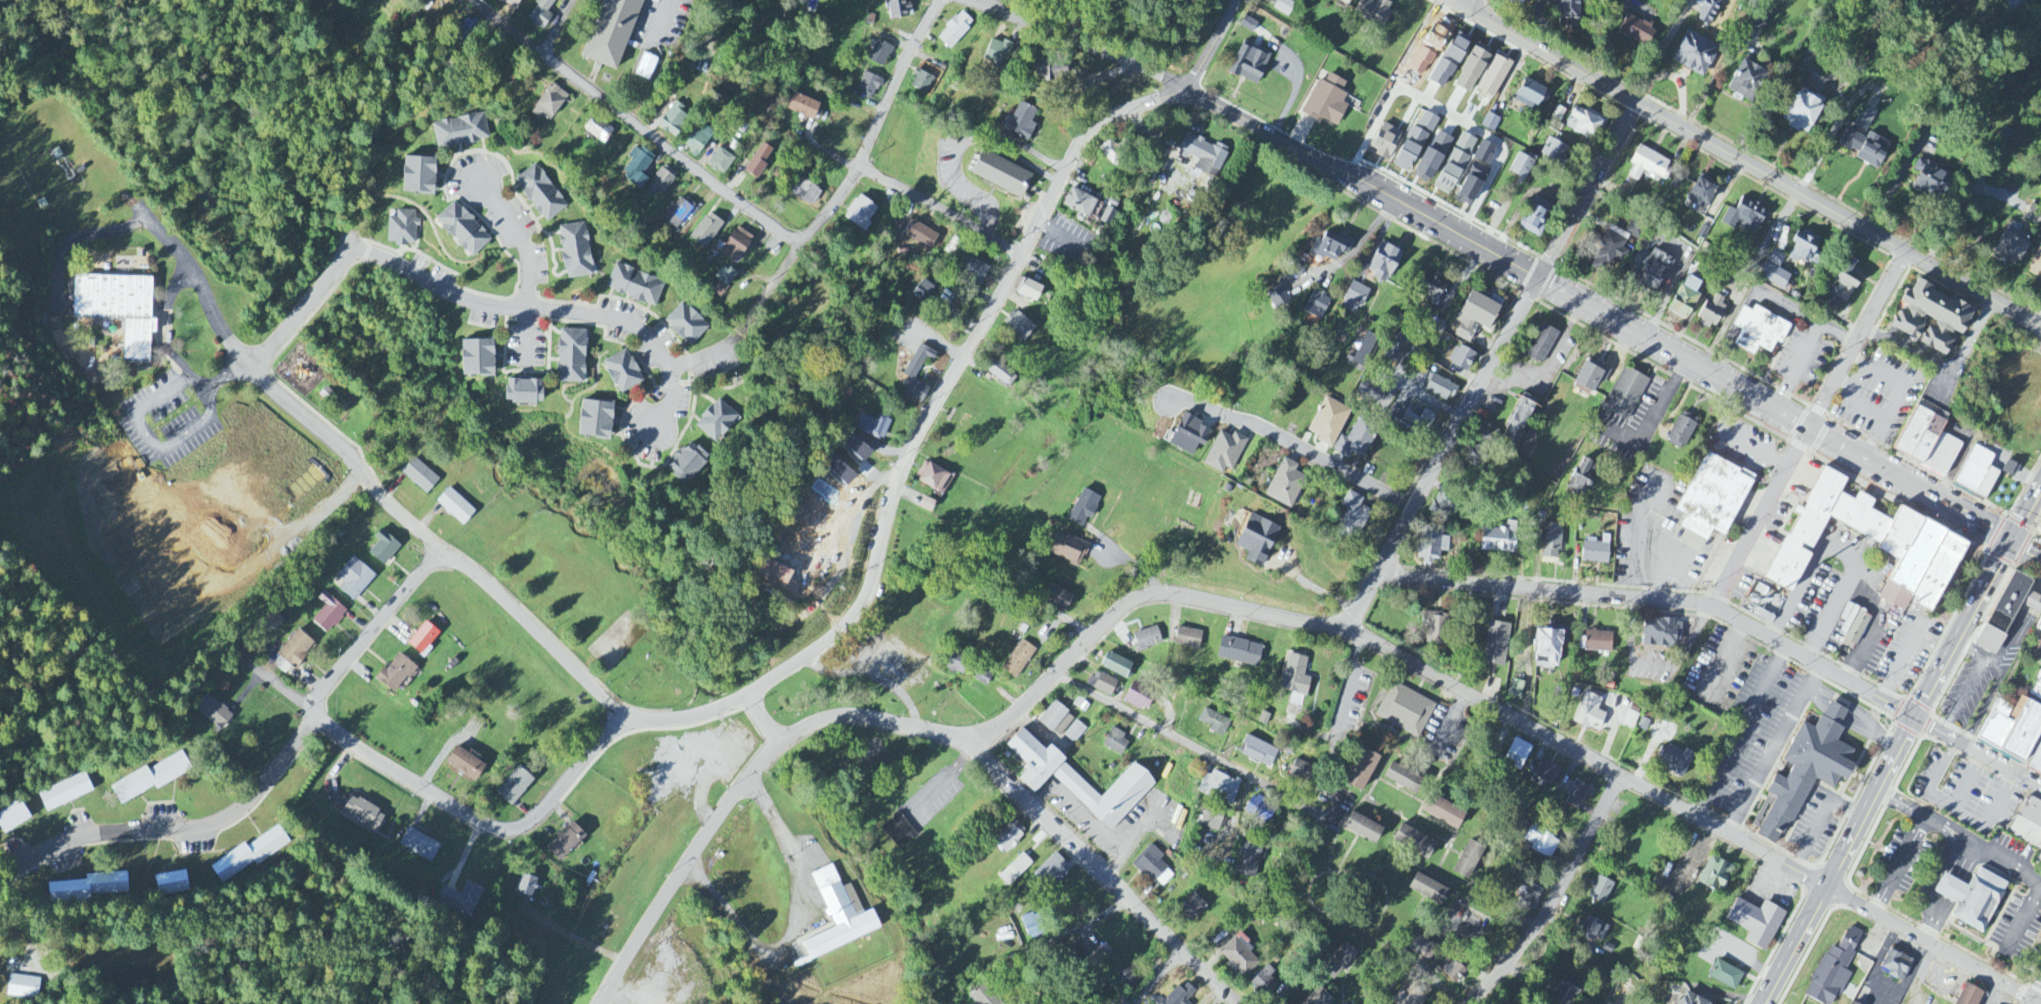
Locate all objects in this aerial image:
building: (372, 0)
building: (814, 0)
building: (389, 1)
building: (1345, 1)
road: (979, 2)
building: (1516, 2)
building: (510, 3)
road: (1475, 6)
building: (2014, 6)
building: (1283, 7)
building: (897, 10)
road: (356, 11)
building: (1373, 12)
building: (1708, 12)
building: (541, 14)
road: (664, 14)
building: (1567, 14)
parking lot: (660, 22)
building: (1758, 22)
road: (506, 28)
road: (558, 28)
building: (612, 31)
building: (955, 31)
building: (1636, 31)
building: (465, 35)
road: (1213, 44)
road: (1544, 52)
building: (998, 53)
building: (879, 54)
building: (1695, 55)
building: (1447, 64)
building: (1249, 65)
building: (645, 67)
building: (1050, 72)
building: (1471, 72)
building: (1494, 78)
building: (1746, 80)
road: (899, 82)
building: (921, 83)
building: (868, 86)
building: (1529, 95)
building: (1326, 102)
building: (548, 104)
building: (802, 107)
building: (1558, 115)
building: (1802, 115)
building: (673, 120)
building: (1864, 120)
building: (1427, 123)
building: (1490, 123)
building: (1584, 124)
building: (1017, 126)
road: (1257, 126)
building: (598, 130)
building: (461, 132)
building: (698, 140)
building: (1385, 142)
building: (1465, 144)
building: (1865, 149)
building: (1410, 150)
building: (1109, 152)
building: (1554, 153)
road: (674, 154)
building: (1484, 154)
building: (1202, 156)
building: (1432, 159)
building: (1458, 160)
building: (758, 161)
building: (720, 162)
building: (1648, 166)
building: (1520, 167)
building: (637, 168)
road: (854, 175)
building: (1000, 175)
building: (418, 177)
building: (1446, 180)
building: (662, 181)
building: (1472, 185)
road: (1588, 191)
building: (805, 193)
building: (1701, 193)
building: (541, 194)
building: (1079, 204)
building: (677, 213)
building: (860, 215)
building: (2034, 215)
building: (1108, 217)
building: (1744, 217)
road: (1839, 217)
building: (1536, 218)
building: (402, 229)
building: (462, 230)
building: (706, 232)
building: (921, 237)
road: (77, 238)
road: (523, 242)
building: (736, 245)
building: (2012, 246)
building: (1331, 248)
building: (1803, 248)
building: (1610, 250)
building: (575, 252)
building: (1776, 259)
building: (1383, 263)
building: (2035, 265)
building: (972, 270)
building: (1649, 271)
building: (725, 277)
building: (1774, 278)
building: (1845, 281)
building: (635, 286)
building: (1430, 290)
building: (922, 291)
building: (1028, 292)
building: (1356, 296)
building: (1277, 298)
building: (1685, 299)
building: (1316, 306)
building: (118, 310)
building: (1712, 312)
road: (549, 315)
road: (306, 317)
building: (1474, 317)
road: (164, 320)
building: (1930, 320)
building: (686, 325)
building: (1017, 327)
building: (1437, 331)
building: (1759, 332)
road: (525, 337)
road: (1856, 340)
building: (1543, 346)
building: (1397, 348)
road: (888, 351)
building: (1363, 351)
road: (706, 355)
building: (570, 358)
building: (477, 359)
building: (1462, 360)
road: (1943, 367)
building: (622, 373)
building: (1000, 374)
building: (917, 375)
road: (953, 378)
building: (1590, 378)
road: (219, 380)
building: (1434, 385)
road: (1731, 385)
road: (269, 386)
building: (521, 393)
road: (1418, 395)
building: (1625, 395)
parking lot: (1873, 399)
road: (1656, 413)
building: (596, 421)
building: (1420, 421)
building: (716, 422)
building: (1328, 422)
building: (1518, 422)
building: (874, 427)
building: (1681, 432)
building: (1917, 434)
building: (1487, 435)
building: (1189, 436)
road: (1733, 438)
building: (1357, 439)
road: (154, 442)
road: (1294, 446)
building: (857, 450)
building: (1224, 453)
building: (1941, 453)
road: (1441, 455)
building: (1474, 458)
building: (686, 465)
building: (2011, 469)
building: (1977, 471)
building: (837, 472)
building: (420, 476)
building: (931, 477)
building: (1582, 477)
building: (304, 485)
building: (1285, 485)
building: (1715, 492)
building: (927, 505)
building: (455, 507)
building: (1441, 507)
building: (1083, 509)
road: (2026, 512)
road: (1966, 515)
road: (1759, 516)
building: (1352, 518)
building: (2039, 525)
building: (1821, 526)
building: (2039, 531)
building: (1897, 533)
road: (1643, 536)
building: (1256, 540)
building: (1499, 540)
traffic signals: (2011, 540)
building: (1551, 542)
building: (384, 548)
building: (1431, 548)
road: (2025, 548)
road: (1843, 549)
building: (1067, 550)
building: (1595, 553)
road: (457, 561)
building: (1910, 565)
road: (1132, 570)
building: (1936, 571)
building: (354, 579)
road: (1544, 588)
road: (1316, 589)
building: (1055, 598)
building: (2032, 603)
building: (328, 614)
building: (2003, 614)
building: (1435, 627)
building: (2039, 628)
road: (1964, 630)
building: (1856, 632)
building: (1662, 634)
building: (422, 639)
building: (1147, 639)
building: (1188, 639)
building: (1595, 642)
building: (1496, 645)
road: (1865, 645)
building: (1547, 647)
building: (2038, 651)
building: (1239, 652)
building: (293, 653)
road: (1529, 656)
building: (1018, 660)
road: (1906, 661)
road: (1812, 662)
building: (955, 664)
building: (1115, 666)
parking lot: (1719, 668)
road: (1065, 669)
building: (396, 674)
building: (984, 677)
building: (1295, 680)
building: (1104, 685)
road: (282, 687)
building: (2032, 689)
building: (1516, 690)
building: (1137, 700)
road: (1817, 700)
road: (1484, 703)
building: (212, 711)
building: (1405, 711)
road: (1836, 711)
road: (1859, 711)
building: (1589, 713)
road: (687, 717)
road: (765, 717)
building: (1056, 720)
building: (1630, 720)
traffic signals: (1916, 720)
building: (1214, 723)
road: (1451, 723)
road: (1865, 727)
building: (1989, 727)
road: (1338, 729)
road: (1936, 730)
road: (1740, 732)
building: (1075, 733)
building: (2015, 733)
building: (1115, 743)
road: (1198, 748)
road: (1775, 751)
building: (1258, 753)
building: (1517, 755)
road: (2030, 756)
building: (1032, 761)
building: (1673, 761)
building: (2035, 761)
building: (465, 765)
road: (1998, 765)
building: (1805, 770)
building: (1361, 771)
building: (1301, 772)
building: (1547, 774)
building: (151, 779)
building: (1402, 779)
building: (514, 787)
building: (1219, 788)
building: (66, 793)
building: (1107, 795)
building: (1577, 795)
road: (1905, 803)
road: (1080, 810)
building: (1259, 810)
building: (1443, 813)
building: (362, 815)
building: (13, 818)
building: (1212, 819)
road: (478, 820)
road: (1936, 820)
road: (176, 828)
building: (1362, 829)
building: (899, 832)
road: (1724, 832)
building: (2025, 832)
building: (1009, 838)
building: (565, 843)
building: (1413, 843)
building: (1541, 845)
building: (419, 846)
road: (1964, 848)
building: (250, 856)
building: (1250, 861)
building: (1467, 861)
road: (1842, 862)
road: (1900, 864)
road: (1117, 866)
building: (1154, 867)
road: (687, 869)
building: (1014, 871)
building: (1051, 872)
road: (1102, 873)
building: (1715, 874)
building: (172, 884)
building: (91, 887)
building: (526, 887)
building: (1427, 890)
building: (1600, 891)
building: (1531, 893)
road: (1553, 897)
building: (1965, 899)
building: (462, 900)
building: (1193, 906)
building: (839, 916)
road: (2024, 918)
road: (794, 922)
building: (1756, 923)
building: (1593, 930)
road: (1052, 937)
road: (1479, 942)
road: (1934, 946)
building: (1420, 947)
building: (1238, 957)
building: (1337, 961)
building: (1885, 967)
building: (1834, 969)
building: (1453, 972)
building: (1124, 976)
road: (1150, 976)
building: (1725, 976)
building: (1264, 982)
building: (23, 987)
building: (1567, 991)
building: (1968, 995)
building: (984, 996)
building: (1175, 996)
building: (1409, 997)
building: (1317, 998)
building: (1690, 1000)
building: (1851, 1003)

